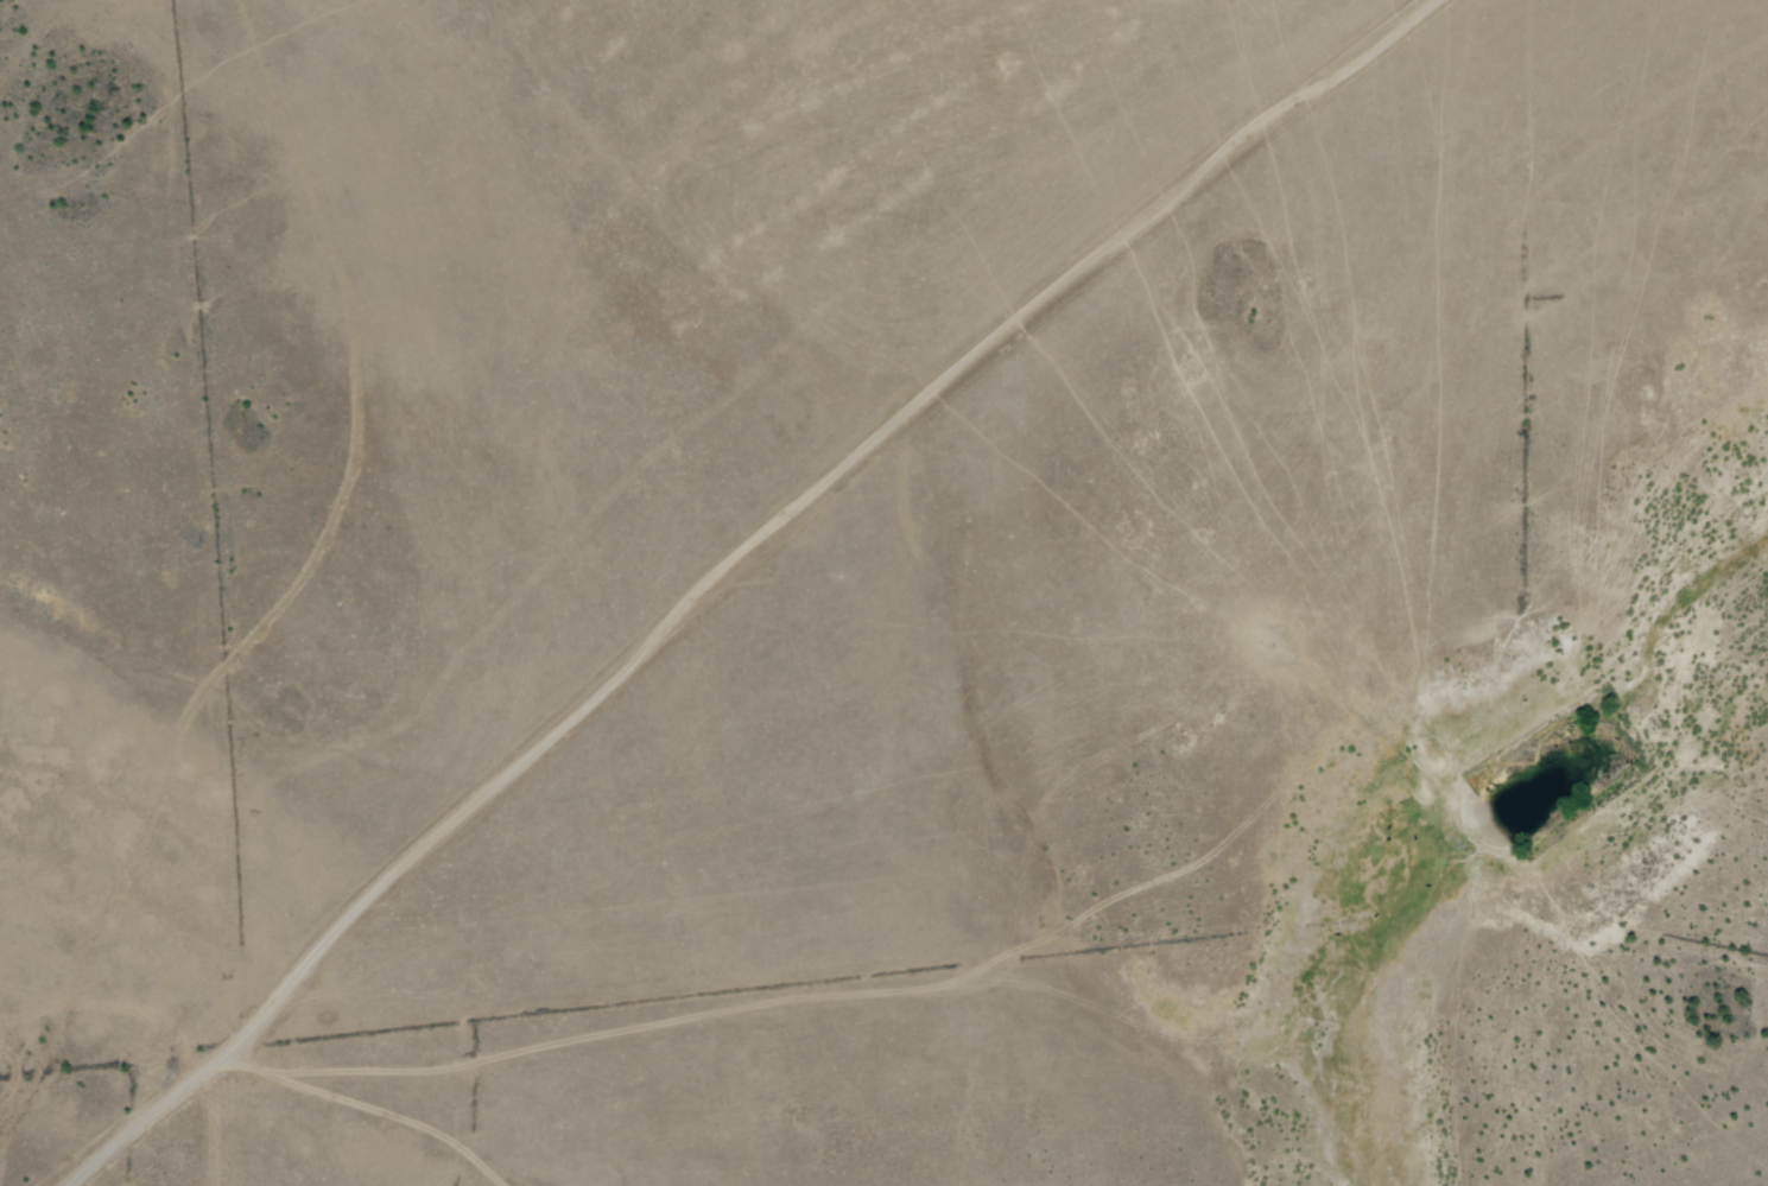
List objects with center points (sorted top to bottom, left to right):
road: (717, 572)

